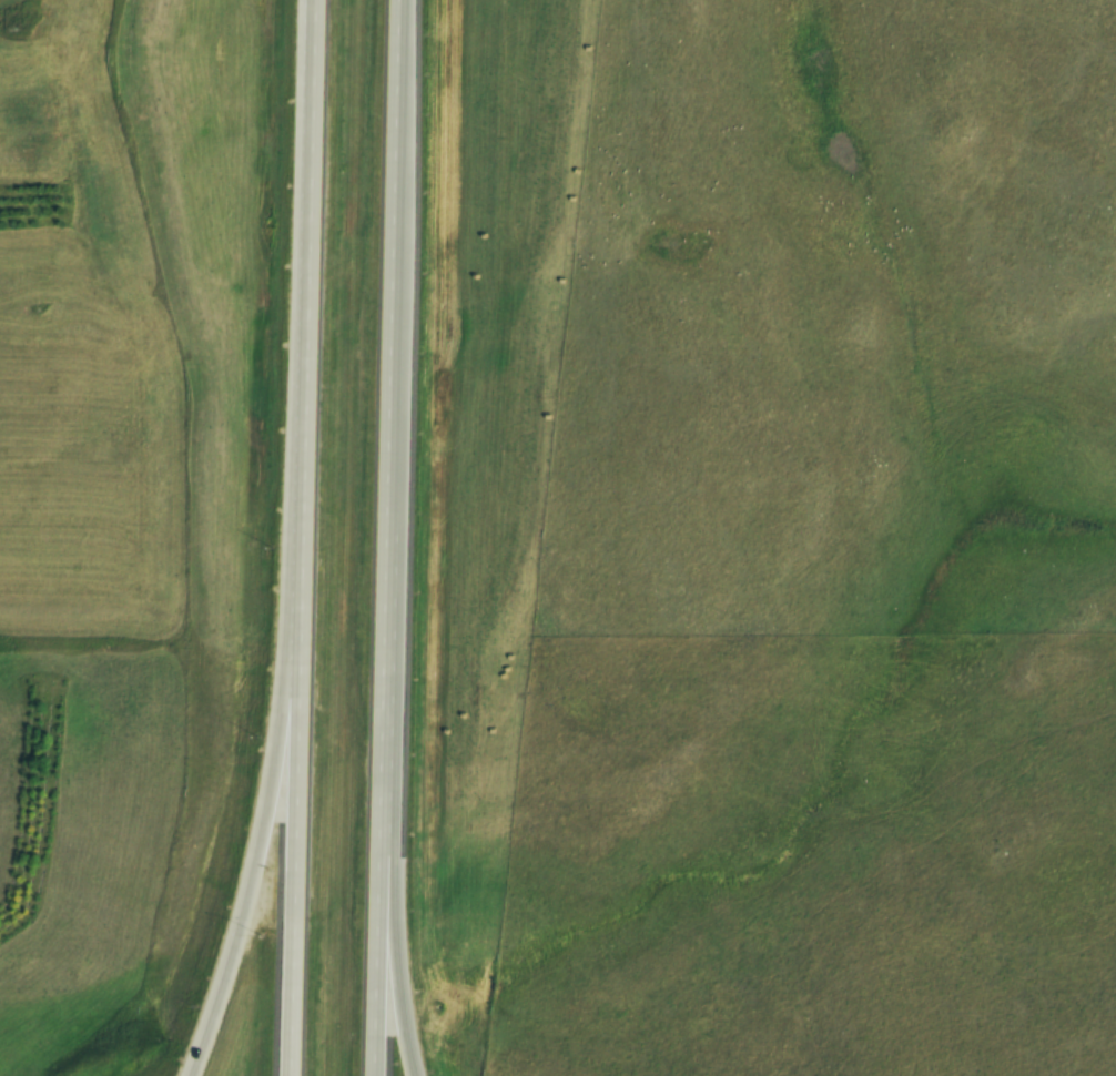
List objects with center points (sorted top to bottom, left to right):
road: (303, 538)
road: (394, 538)
street lamp: (262, 541)
street lamp: (252, 734)
road: (263, 825)
street lamp: (262, 933)
road: (396, 953)

